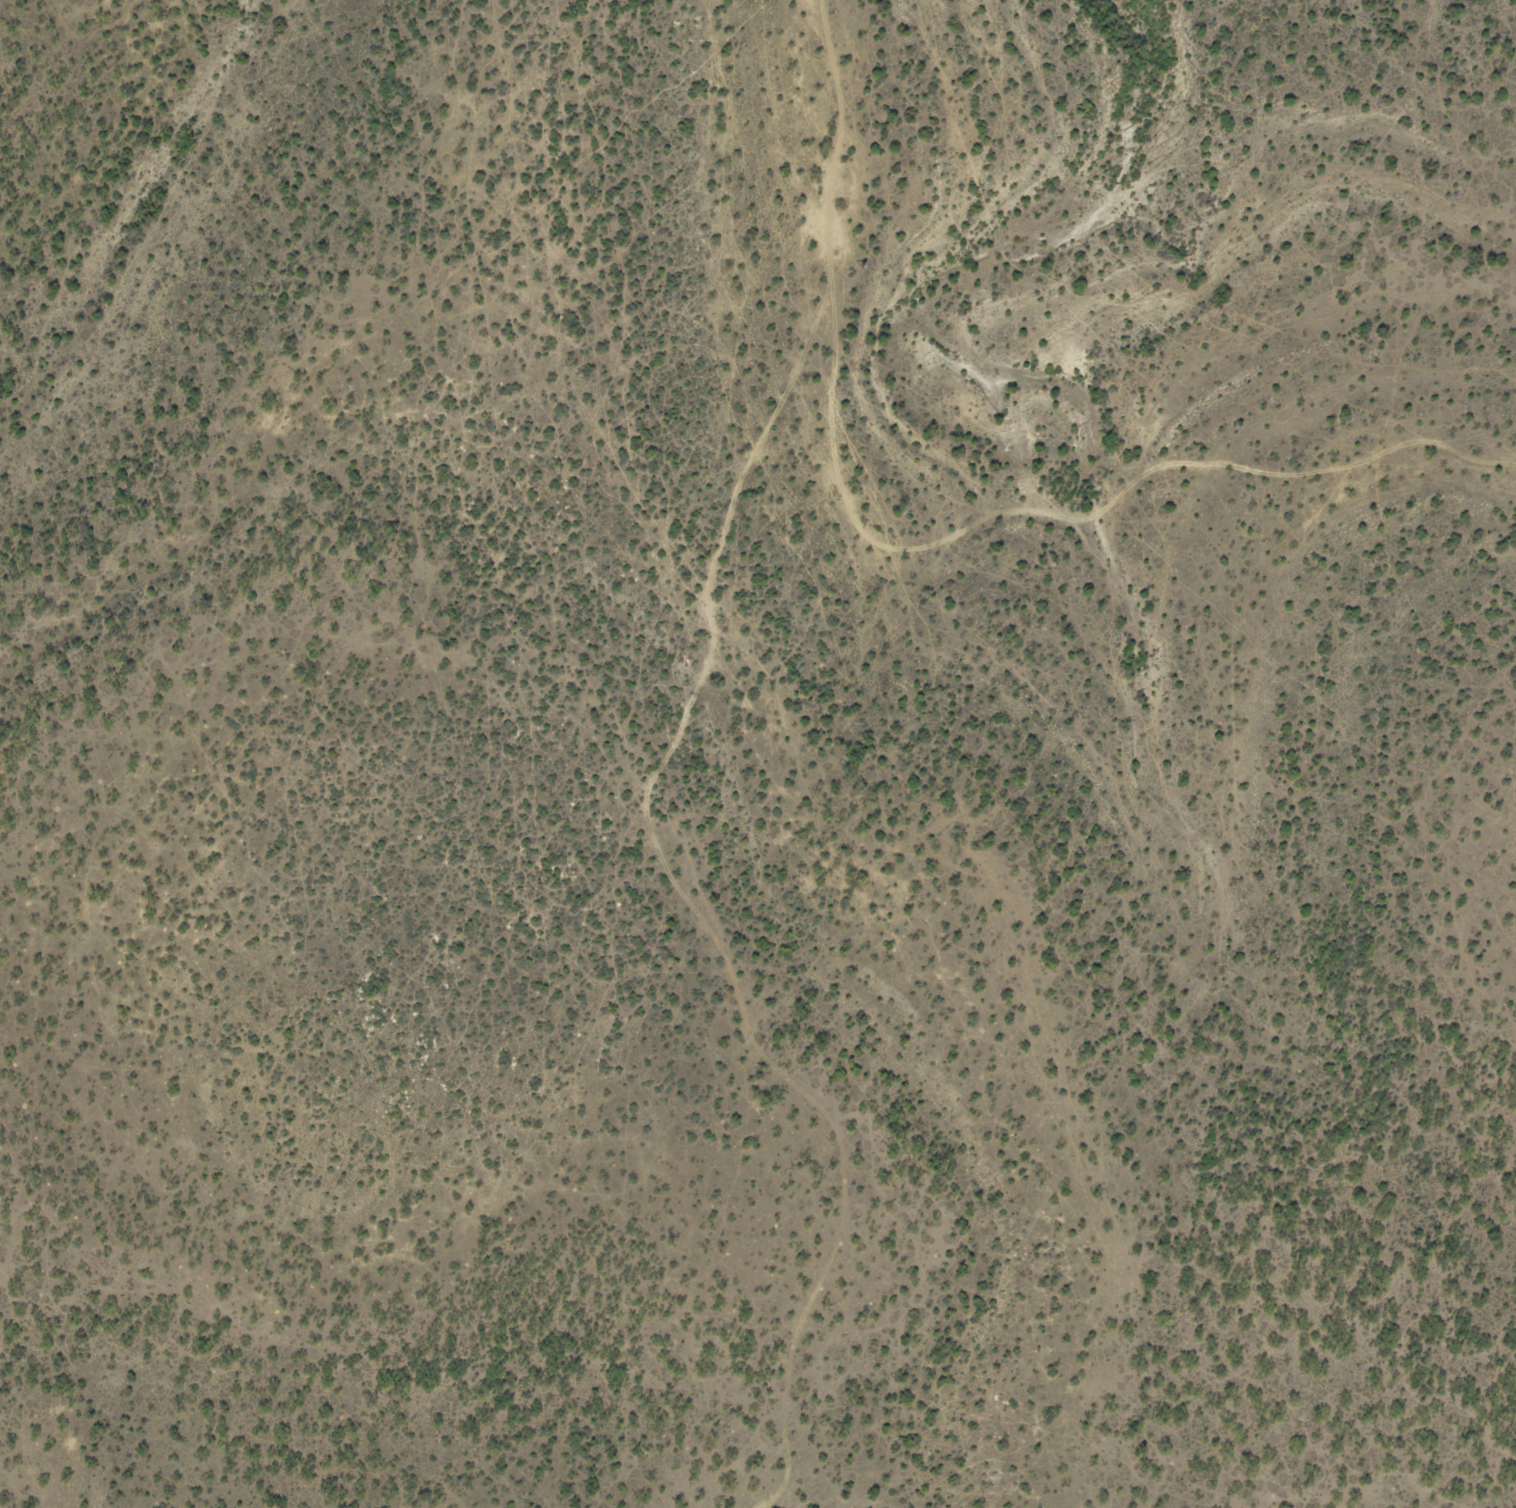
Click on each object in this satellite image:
road: (925, 537)

